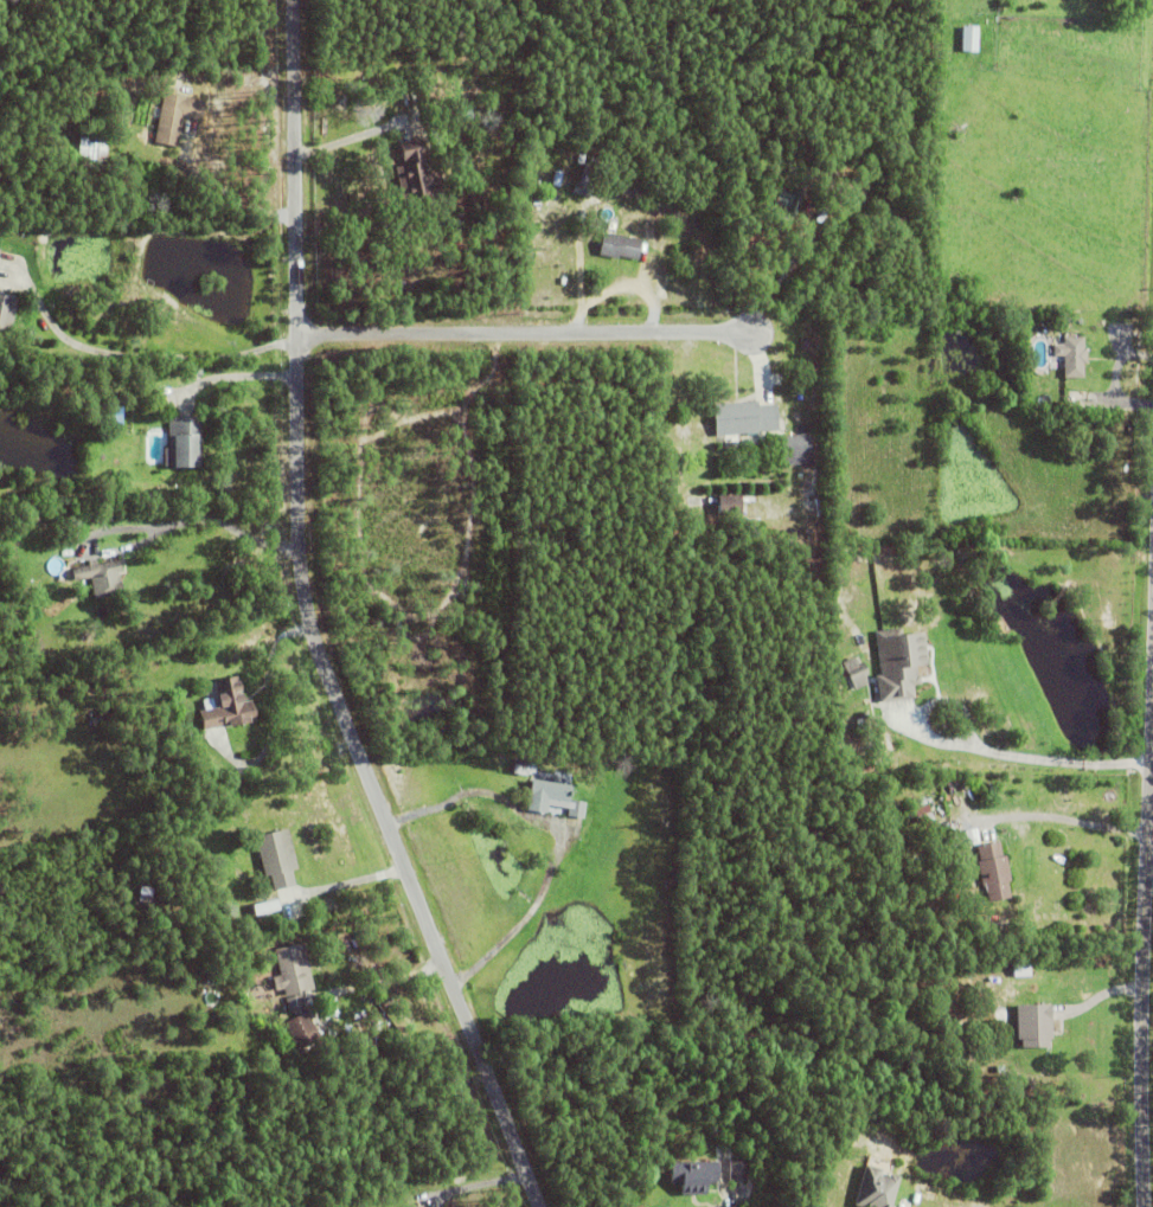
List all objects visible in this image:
building: (968, 39)
building: (462, 95)
building: (463, 116)
building: (175, 117)
building: (579, 160)
building: (414, 174)
building: (556, 180)
building: (585, 181)
building: (793, 204)
building: (898, 222)
building: (539, 230)
building: (620, 248)
road: (779, 276)
building: (6, 316)
building: (1023, 319)
road: (520, 332)
building: (806, 346)
road: (139, 353)
building: (1071, 358)
building: (197, 372)
road: (236, 375)
building: (744, 419)
building: (182, 445)
building: (796, 451)
building: (729, 507)
road: (204, 519)
building: (71, 527)
building: (104, 580)
road: (313, 623)
building: (1001, 627)
building: (902, 663)
building: (854, 674)
building: (228, 708)
building: (97, 721)
road: (1021, 757)
building: (523, 769)
building: (545, 798)
building: (918, 814)
building: (578, 815)
building: (276, 860)
building: (957, 861)
building: (993, 873)
building: (145, 897)
road: (1145, 956)
building: (292, 977)
building: (1033, 1028)
building: (301, 1033)
building: (210, 1104)
building: (737, 1168)
building: (693, 1171)
road: (470, 1186)

